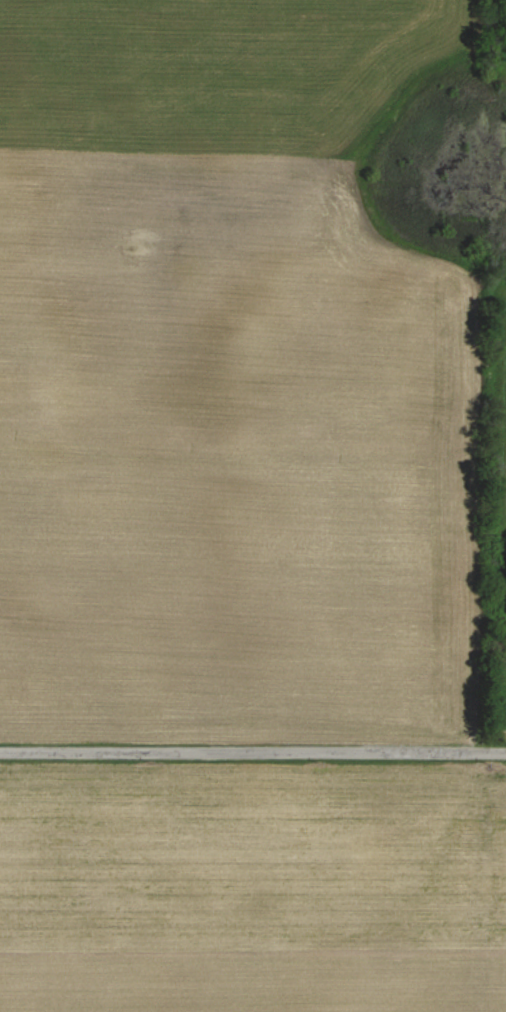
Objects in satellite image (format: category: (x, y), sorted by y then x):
road: (253, 752)

